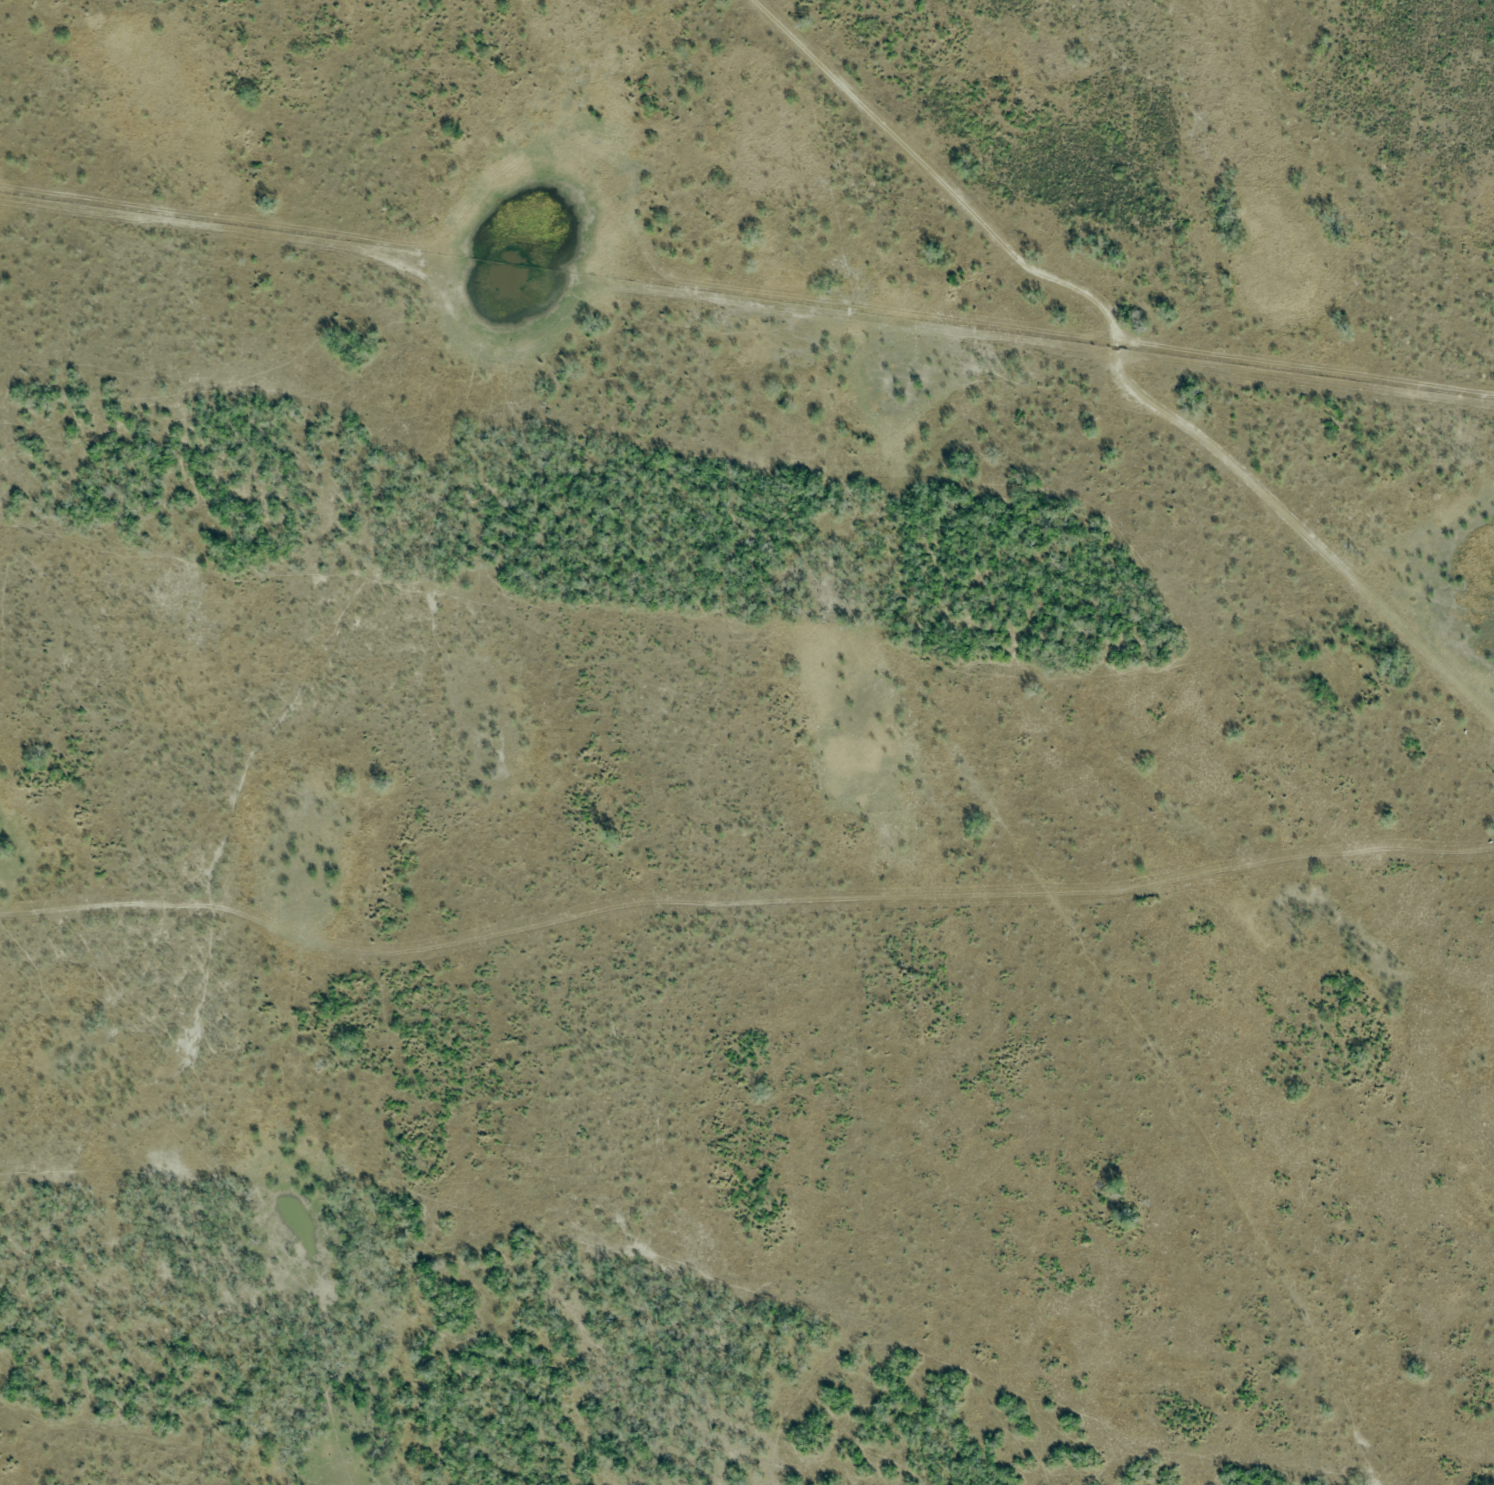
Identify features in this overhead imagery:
road: (1057, 404)

